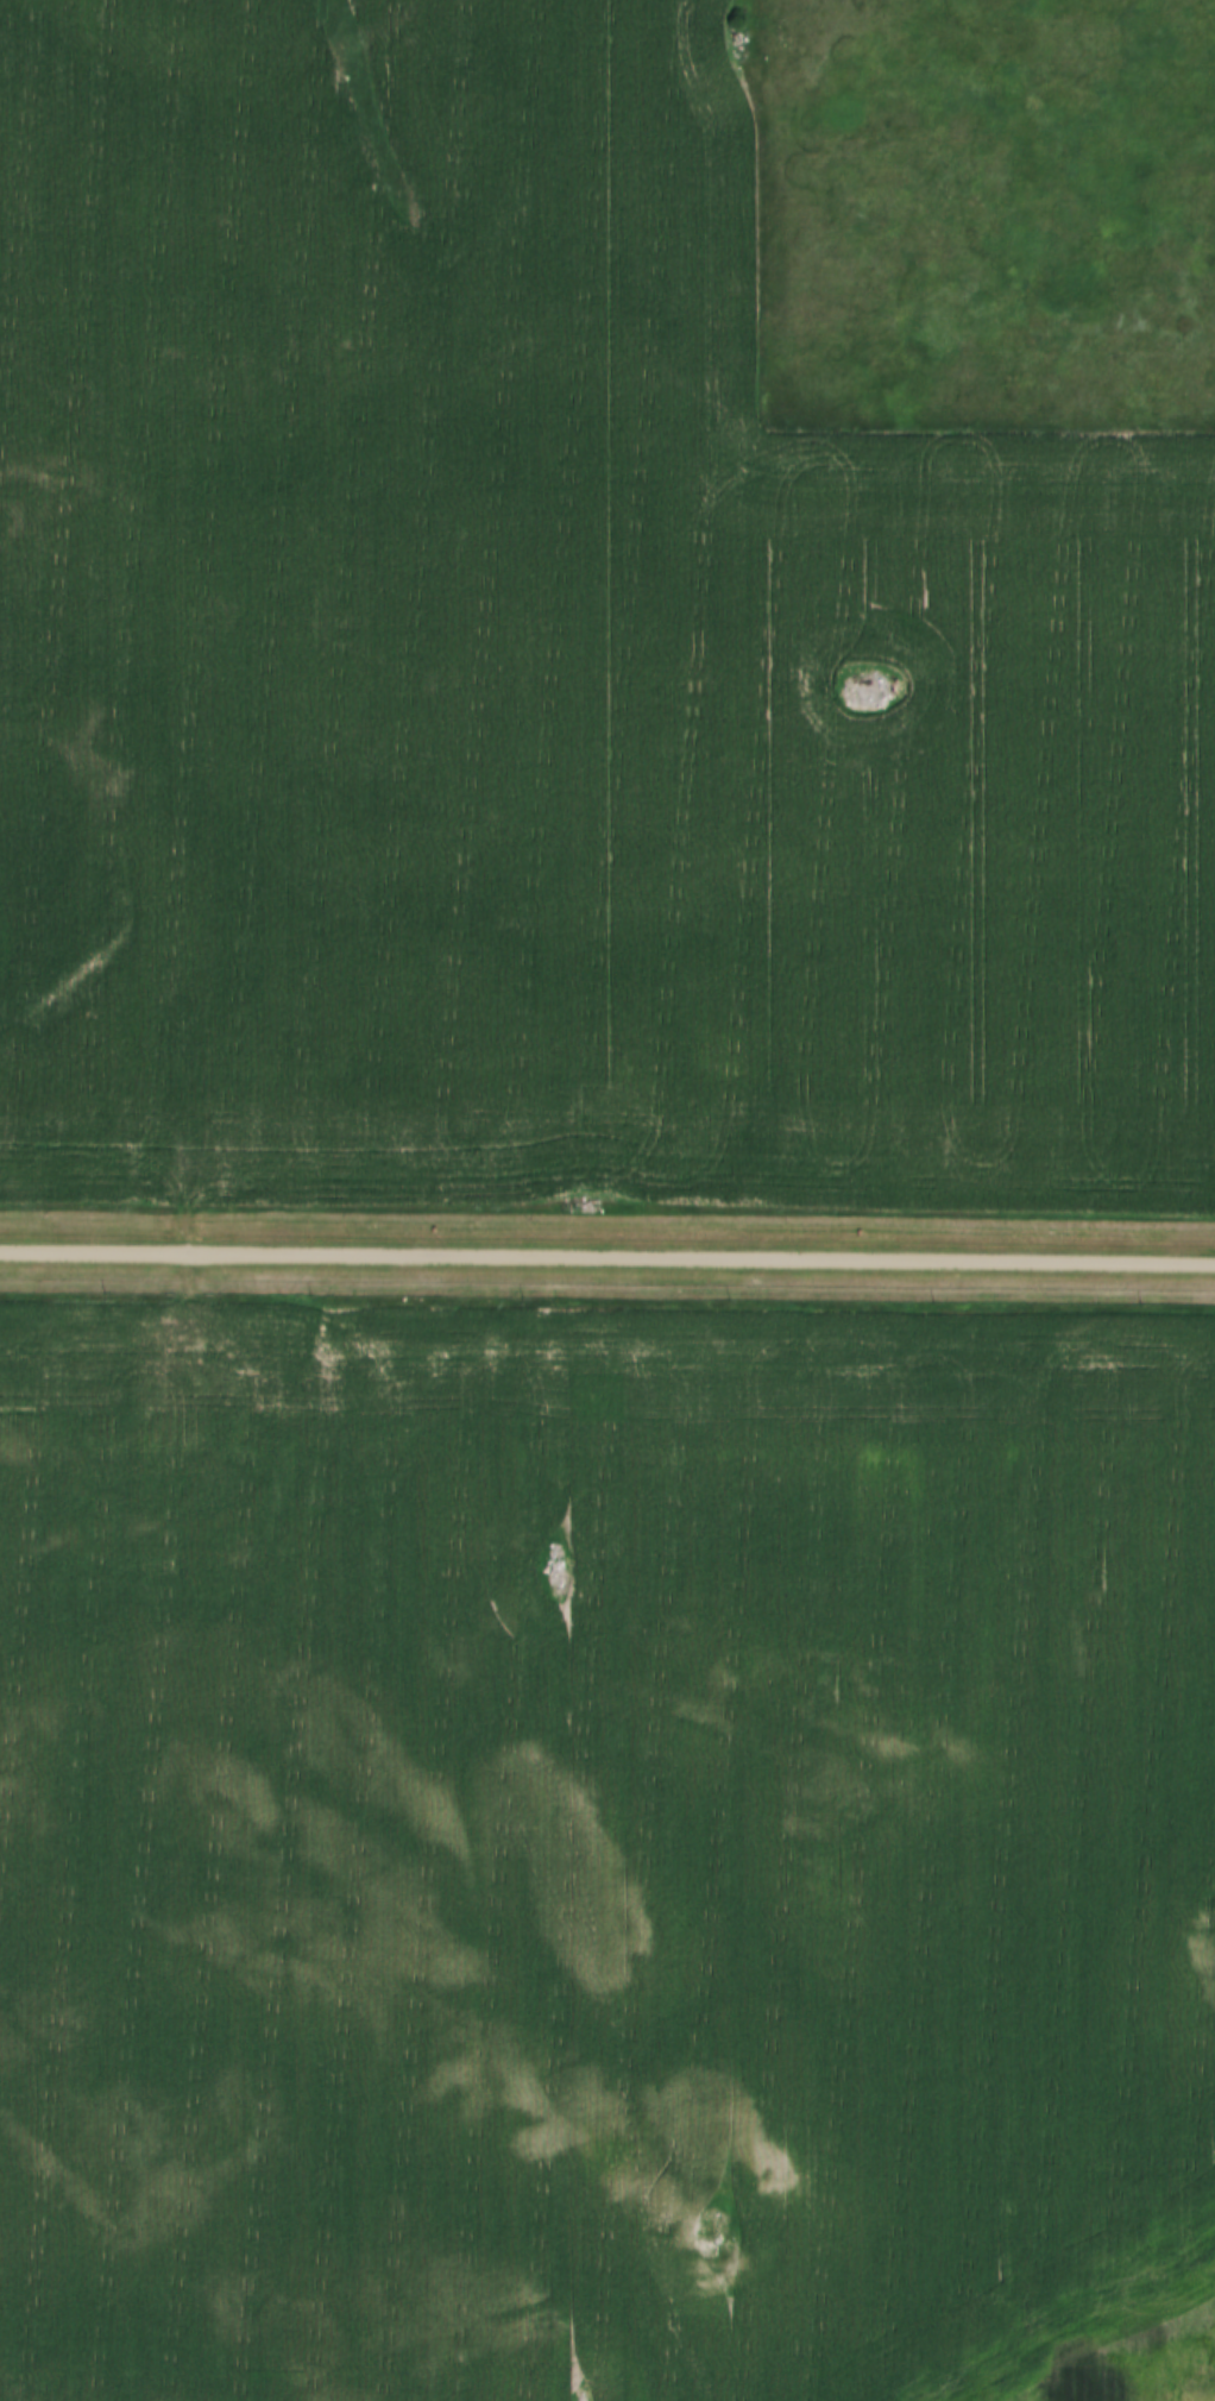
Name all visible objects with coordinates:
road: (606, 1256)

